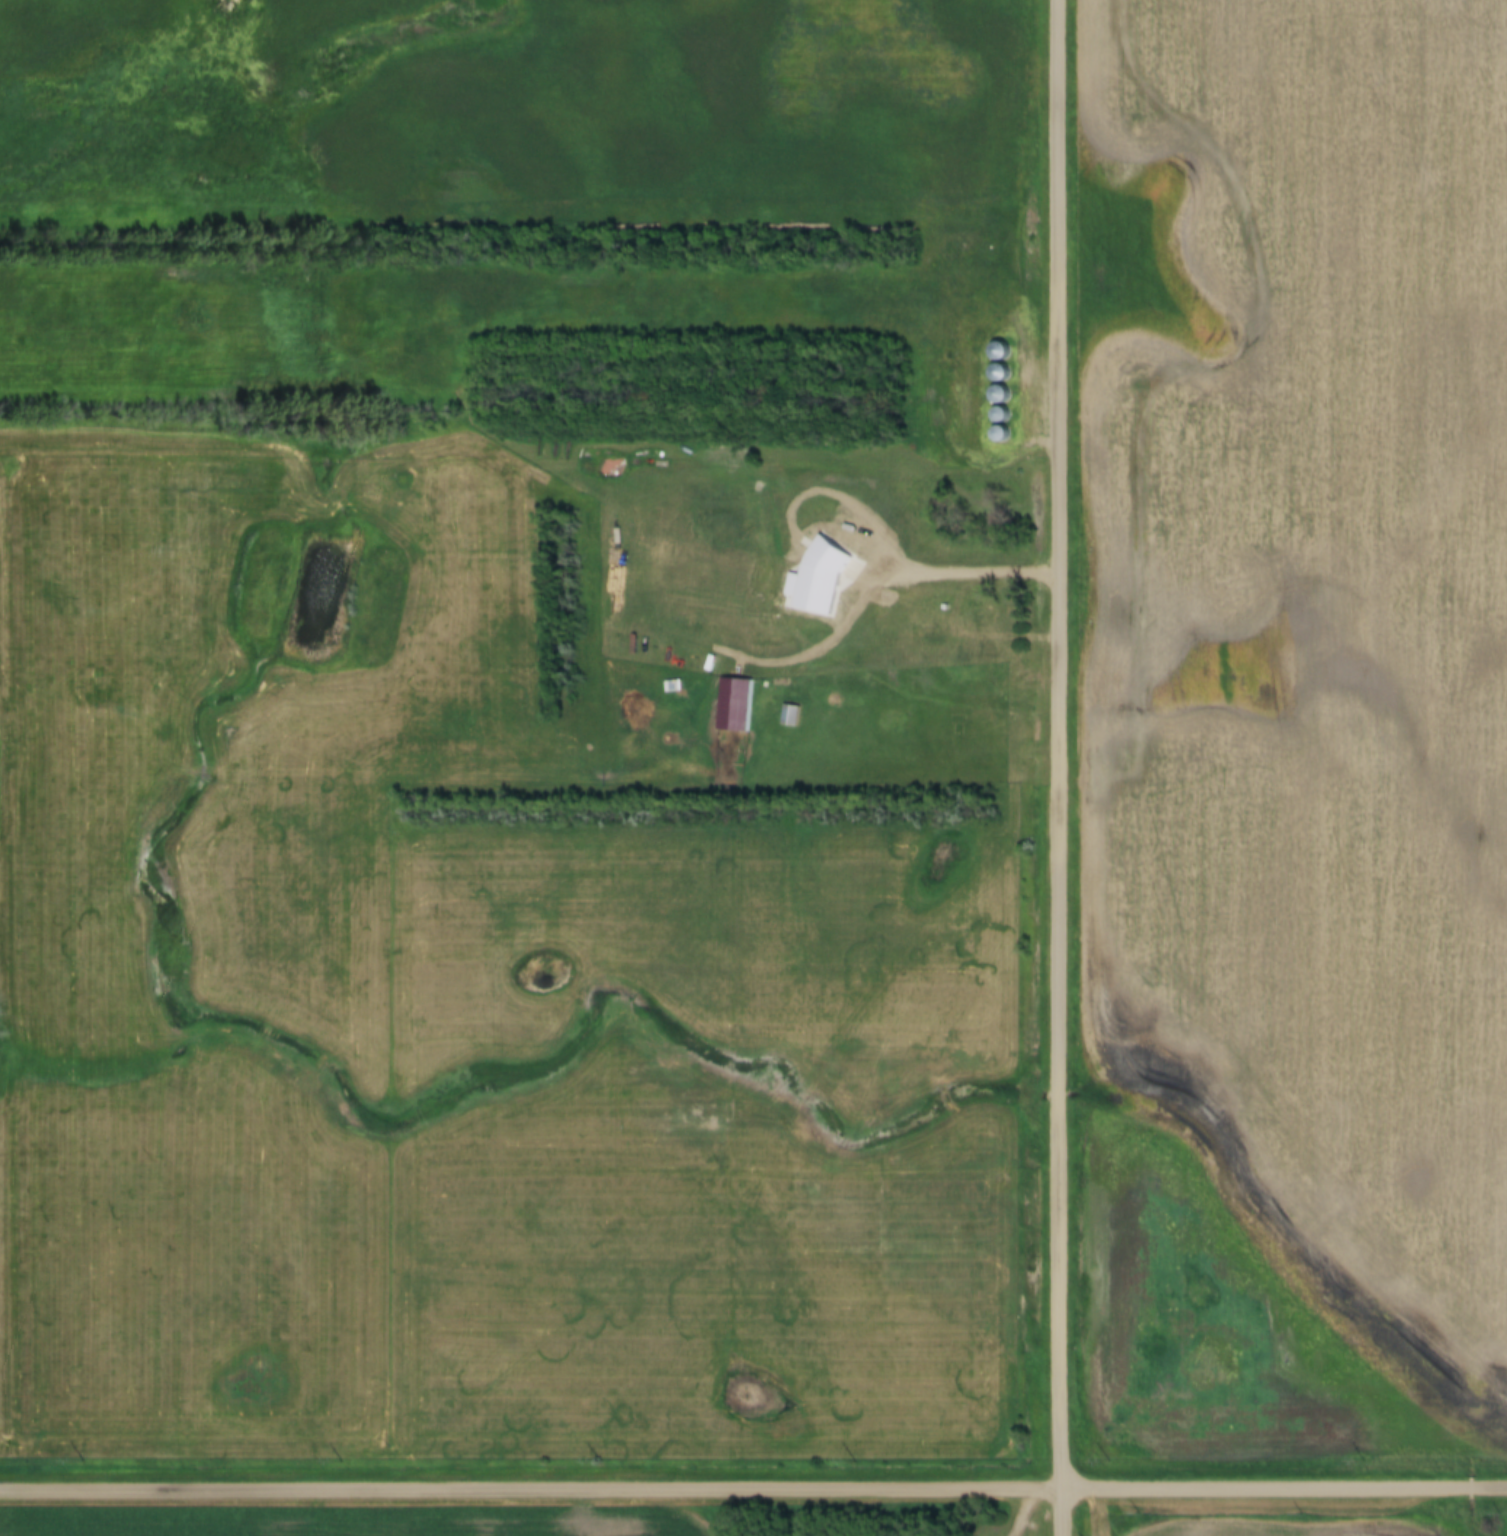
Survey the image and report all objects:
building: (993, 361)
building: (992, 394)
building: (996, 421)
building: (971, 617)
road: (654, 619)
building: (918, 635)
road: (1061, 768)
road: (753, 1487)
road: (1026, 1512)

